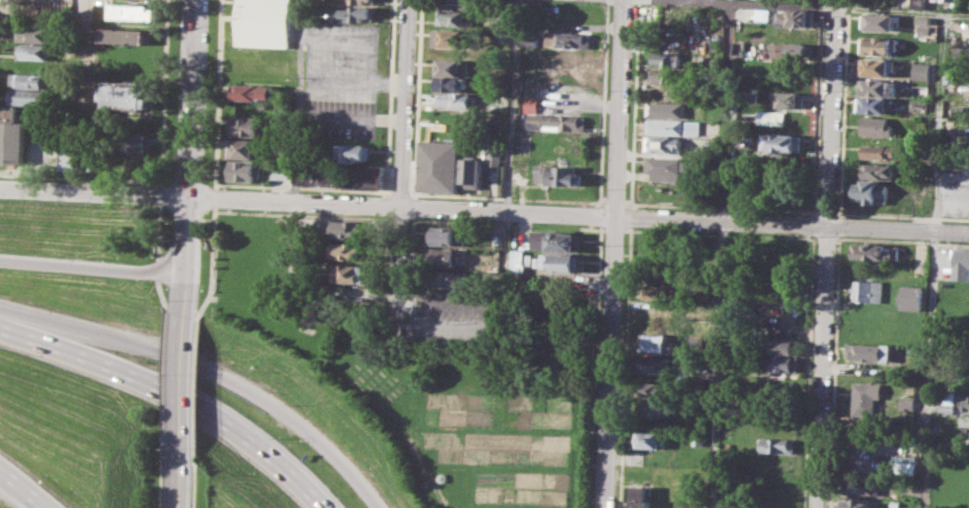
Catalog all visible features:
building: (945, 0)
building: (361, 1)
building: (920, 3)
building: (461, 4)
road: (823, 5)
building: (134, 11)
building: (357, 14)
building: (452, 17)
building: (796, 18)
building: (924, 19)
building: (879, 21)
building: (264, 22)
building: (924, 30)
building: (34, 33)
building: (127, 36)
building: (453, 38)
building: (565, 38)
road: (369, 40)
building: (878, 45)
building: (35, 51)
building: (792, 51)
building: (253, 57)
building: (665, 59)
building: (452, 67)
building: (877, 67)
building: (921, 70)
building: (665, 75)
building: (949, 75)
parking lot: (339, 78)
building: (28, 79)
building: (450, 83)
building: (879, 87)
building: (255, 91)
building: (129, 94)
building: (28, 96)
road: (194, 99)
building: (791, 99)
building: (454, 100)
road: (296, 102)
road: (403, 104)
building: (874, 104)
road: (510, 106)
building: (668, 109)
building: (764, 116)
building: (454, 117)
building: (551, 118)
road: (361, 120)
building: (246, 125)
building: (877, 125)
building: (665, 126)
building: (11, 135)
building: (135, 142)
building: (663, 143)
building: (780, 143)
building: (245, 148)
building: (712, 149)
building: (353, 152)
building: (881, 152)
building: (71, 154)
building: (495, 154)
road: (33, 164)
building: (137, 164)
building: (440, 166)
building: (663, 168)
building: (281, 170)
building: (243, 171)
building: (520, 171)
building: (880, 171)
building: (472, 173)
building: (322, 174)
building: (558, 174)
building: (364, 176)
building: (873, 191)
road: (94, 193)
road: (294, 204)
road: (684, 220)
building: (347, 228)
building: (448, 234)
building: (554, 240)
building: (349, 249)
building: (877, 251)
road: (612, 253)
road: (827, 253)
road: (720, 254)
building: (445, 257)
road: (190, 258)
building: (517, 260)
road: (931, 260)
building: (560, 262)
building: (960, 263)
road: (95, 268)
road: (398, 269)
building: (349, 273)
building: (447, 279)
building: (867, 290)
building: (657, 292)
building: (911, 297)
building: (657, 307)
road: (481, 317)
building: (656, 324)
building: (656, 343)
building: (785, 347)
building: (869, 352)
building: (779, 365)
building: (656, 366)
road: (211, 370)
road: (186, 383)
building: (659, 388)
road: (171, 394)
building: (867, 396)
building: (965, 403)
building: (905, 404)
building: (657, 407)
building: (947, 407)
building: (649, 439)
building: (697, 439)
building: (776, 445)
road: (182, 478)
building: (860, 485)
road: (434, 487)
road: (22, 488)
building: (638, 496)
building: (854, 502)

